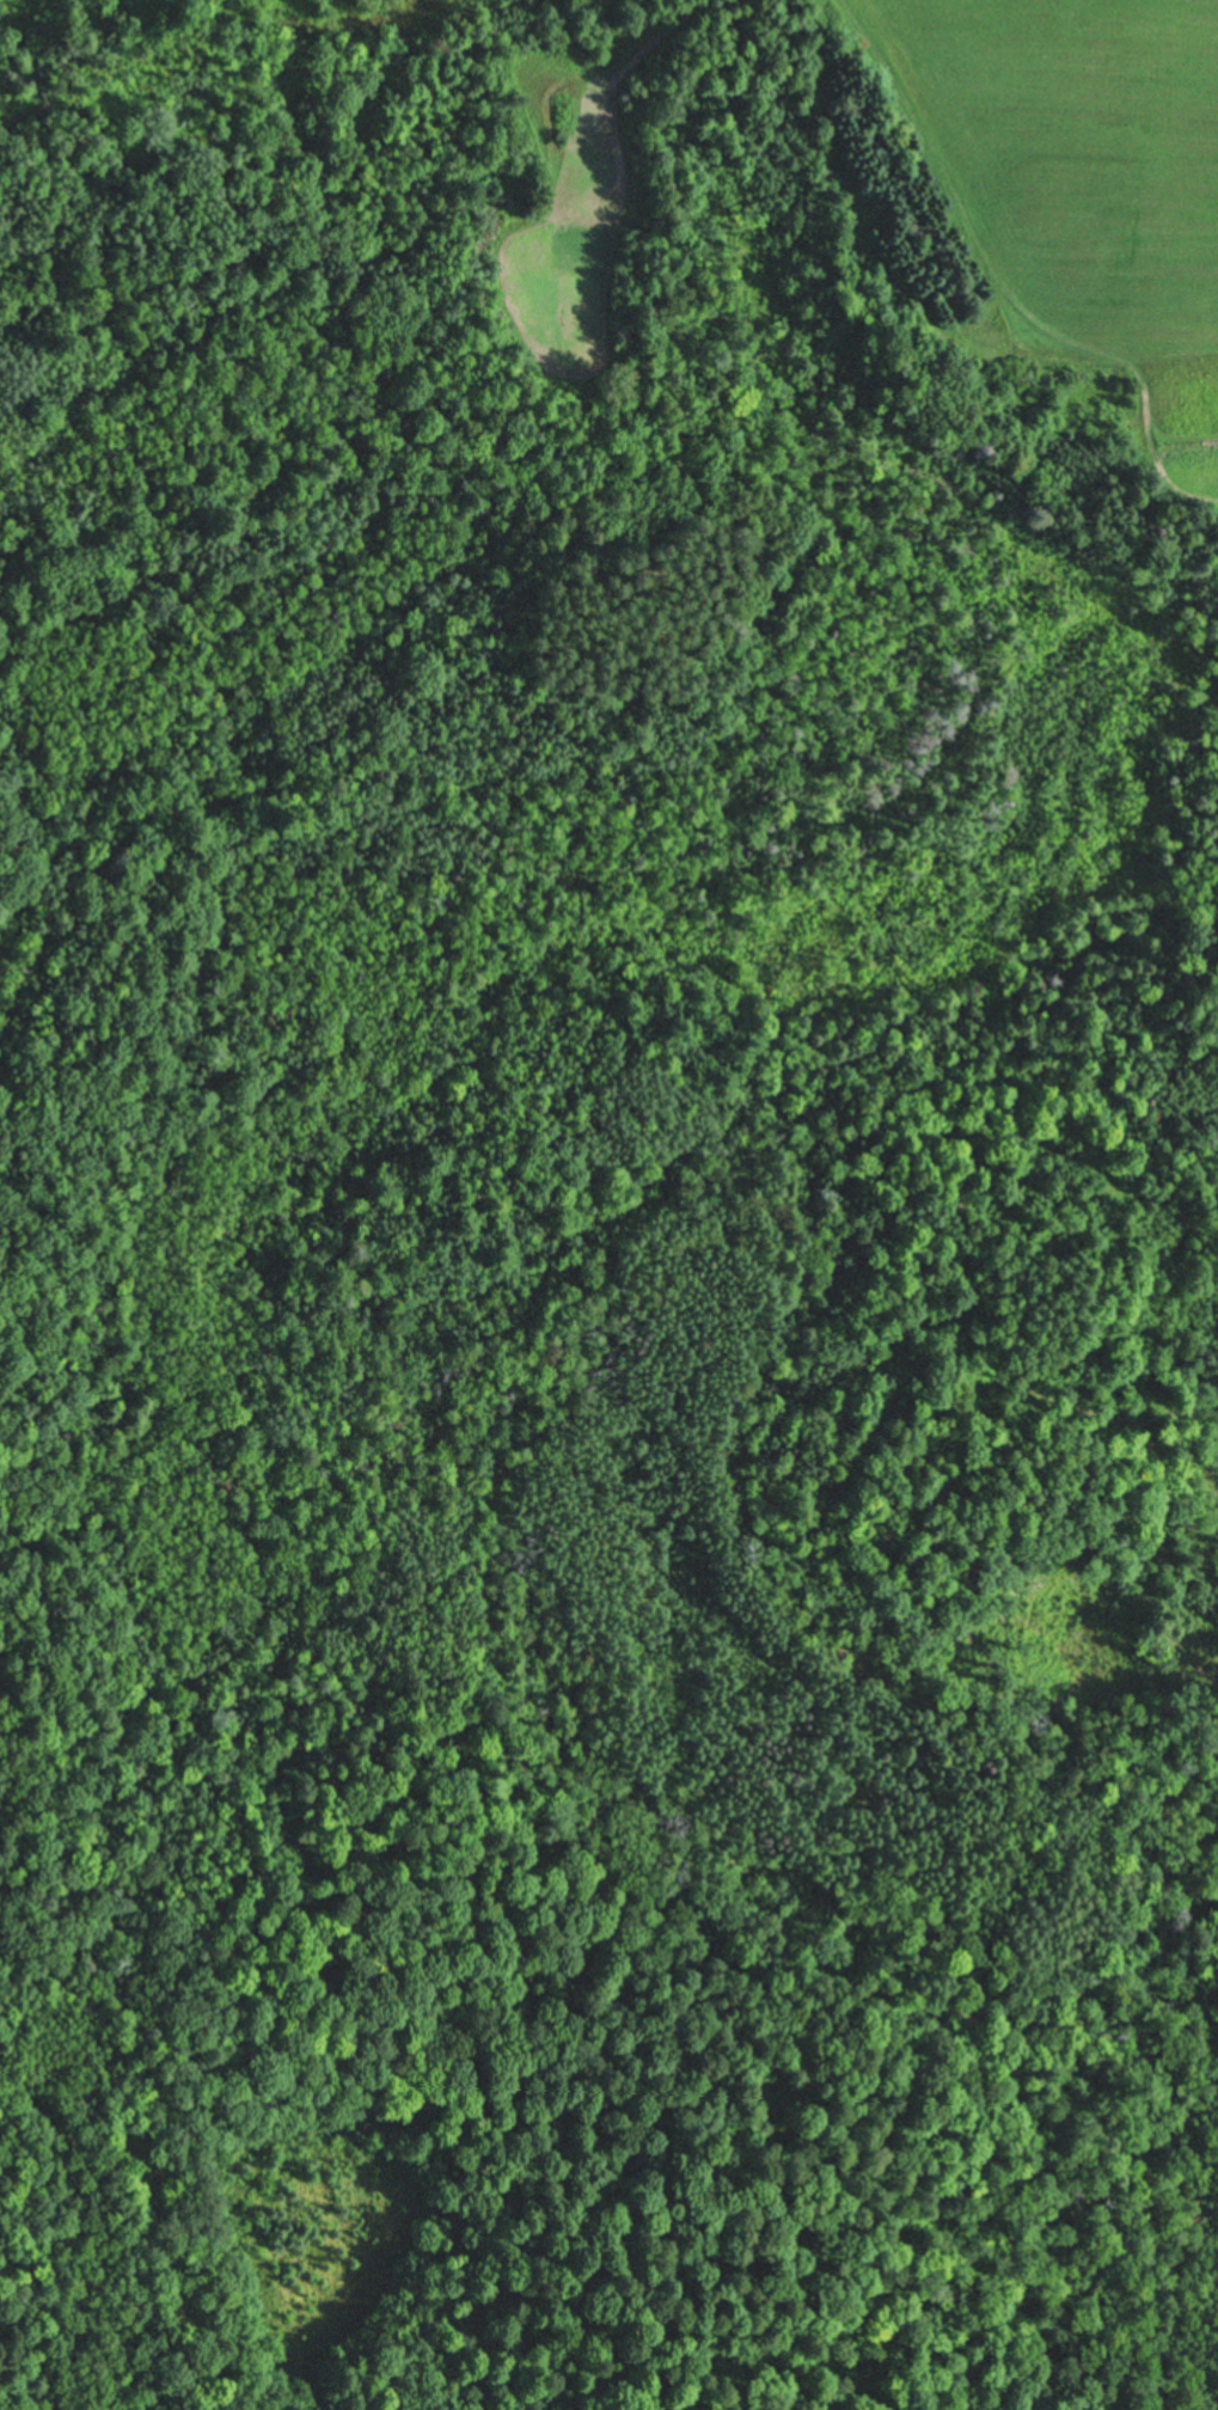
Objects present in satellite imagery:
road: (457, 2030)

